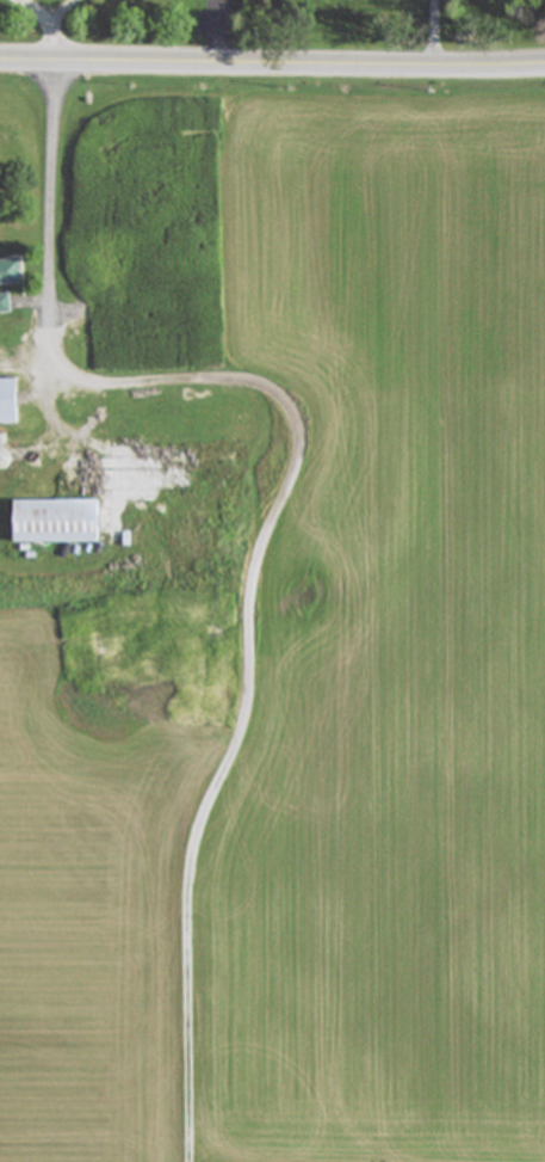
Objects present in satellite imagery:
road: (239, 63)
road: (510, 64)
building: (5, 272)
building: (81, 276)
building: (1, 305)
building: (5, 401)
building: (168, 432)
building: (50, 503)
road: (280, 503)

